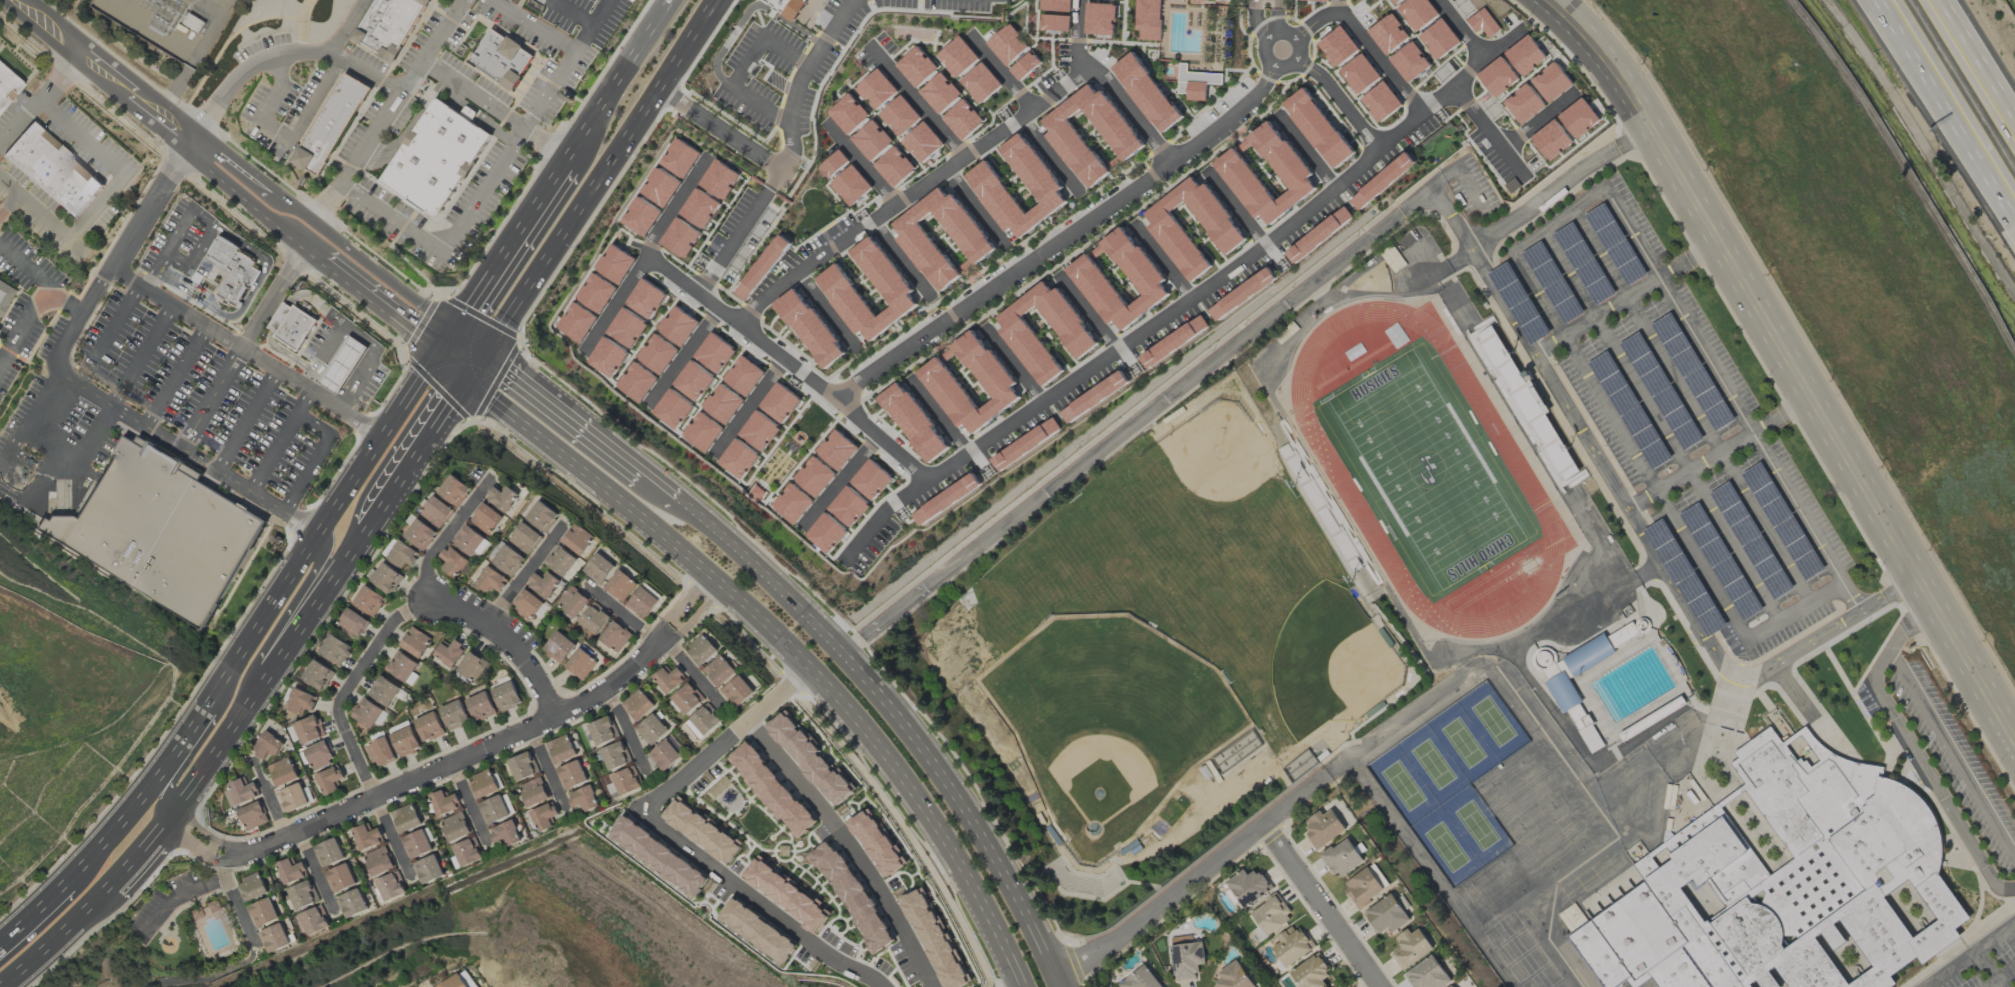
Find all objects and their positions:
building: (1316, 0)
building: (1199, 1)
road: (1255, 4)
road: (1277, 4)
building: (1056, 5)
road: (1337, 5)
building: (788, 7)
building: (1417, 12)
building: (1099, 19)
building: (1148, 19)
road: (583, 20)
road: (1277, 20)
building: (1055, 22)
building: (1483, 23)
power substation: (174, 24)
road: (1256, 24)
road: (531, 25)
building: (389, 26)
road: (352, 27)
road: (1462, 29)
road: (1272, 33)
building: (1389, 34)
road: (581, 38)
road: (1364, 39)
building: (1439, 39)
building: (1007, 44)
building: (1338, 47)
building: (1525, 55)
road: (282, 56)
building: (957, 56)
road: (1487, 56)
building: (501, 58)
road: (1977, 60)
building: (1410, 62)
building: (916, 66)
building: (1025, 66)
road: (744, 67)
road: (1000, 71)
building: (1360, 73)
road: (58, 74)
road: (805, 77)
road: (1100, 78)
road: (617, 79)
building: (1551, 82)
building: (980, 83)
building: (1195, 83)
building: (8, 86)
building: (876, 89)
road: (403, 91)
building: (1146, 92)
road: (278, 93)
building: (940, 93)
road: (915, 100)
road: (1340, 100)
building: (1381, 102)
road: (319, 103)
building: (1525, 103)
road: (1947, 104)
road: (494, 109)
building: (848, 114)
building: (900, 115)
road: (161, 118)
building: (963, 119)
road: (1539, 122)
building: (331, 124)
road: (720, 127)
building: (1318, 128)
building: (1564, 128)
road: (276, 135)
building: (871, 140)
building: (1124, 140)
building: (922, 142)
road: (1305, 149)
road: (507, 151)
road: (1048, 155)
building: (435, 157)
building: (833, 164)
road: (862, 165)
building: (894, 166)
building: (1234, 169)
building: (53, 171)
road: (123, 174)
road: (775, 177)
road: (1443, 177)
building: (1040, 182)
building: (1382, 182)
road: (595, 184)
building: (851, 185)
building: (715, 187)
road: (8, 188)
road: (1472, 188)
road: (1559, 188)
road: (905, 197)
road: (974, 205)
road: (676, 206)
road: (1235, 206)
road: (322, 209)
road: (392, 218)
road: (1449, 220)
road: (1558, 220)
road: (196, 230)
building: (1224, 233)
building: (1319, 234)
road: (1059, 237)
building: (974, 243)
road: (503, 252)
building: (1393, 259)
road: (901, 260)
road: (1161, 260)
building: (763, 266)
road: (23, 268)
building: (234, 270)
road: (1442, 270)
road: (670, 273)
building: (1087, 274)
road: (1745, 280)
building: (891, 285)
road: (371, 291)
building: (1241, 294)
road: (1361, 294)
road: (1539, 294)
building: (4, 295)
road: (64, 300)
road: (1628, 300)
road: (614, 303)
road: (827, 311)
road: (1089, 313)
building: (281, 318)
road: (23, 325)
building: (810, 327)
building: (297, 329)
building: (1397, 333)
road: (108, 334)
road: (361, 335)
building: (1022, 337)
road: (232, 341)
building: (1162, 349)
road: (140, 354)
road: (684, 355)
road: (458, 357)
building: (343, 365)
gas station: (344, 365)
road: (1013, 365)
road: (174, 375)
building: (992, 377)
road: (1070, 380)
road: (75, 384)
road: (312, 392)
road: (211, 397)
parking lot: (159, 399)
road: (1732, 400)
road: (1692, 406)
road: (746, 407)
road: (562, 412)
road: (940, 416)
road: (245, 419)
road: (1137, 419)
building: (914, 421)
road: (1660, 426)
road: (280, 440)
road: (422, 447)
road: (1719, 453)
track: (1337, 475)
road: (19, 478)
road: (838, 482)
road: (1654, 488)
building: (454, 490)
road: (666, 493)
building: (436, 512)
road: (883, 514)
building: (541, 516)
building: (486, 518)
building: (162, 533)
building: (420, 534)
building: (525, 538)
road: (446, 539)
building: (577, 539)
building: (470, 541)
building: (400, 553)
road: (1655, 555)
building: (506, 558)
building: (452, 561)
building: (563, 563)
building: (598, 569)
building: (386, 578)
road: (525, 578)
road: (768, 579)
building: (490, 580)
building: (543, 584)
building: (620, 586)
building: (368, 600)
building: (572, 601)
building: (643, 602)
building: (526, 604)
building: (1626, 611)
road: (1793, 612)
road: (623, 617)
building: (594, 618)
road: (263, 622)
building: (352, 623)
road: (1548, 625)
road: (278, 626)
building: (615, 636)
road: (1898, 639)
building: (415, 642)
road: (508, 643)
road: (783, 645)
building: (559, 647)
building: (335, 649)
building: (701, 650)
building: (449, 652)
road: (1967, 656)
building: (581, 664)
building: (472, 666)
road: (1478, 666)
building: (403, 667)
building: (719, 671)
building: (318, 675)
road: (693, 675)
building: (668, 680)
road: (349, 690)
building: (384, 690)
building: (738, 691)
building: (506, 695)
building: (1565, 696)
building: (686, 699)
building: (301, 701)
building: (638, 705)
building: (481, 706)
building: (368, 714)
building: (454, 715)
building: (703, 721)
park: (1493, 722)
road: (11, 723)
building: (429, 726)
building: (309, 729)
building: (652, 729)
building: (600, 732)
road: (626, 733)
building: (404, 739)
road: (199, 742)
park: (1462, 743)
building: (268, 745)
building: (561, 749)
building: (380, 752)
building: (318, 755)
building: (615, 755)
building: (664, 755)
road: (1952, 755)
building: (809, 756)
road: (455, 765)
park: (1433, 765)
building: (522, 766)
road: (202, 770)
building: (282, 772)
road: (547, 773)
building: (572, 775)
building: (330, 780)
building: (623, 782)
building: (483, 785)
park: (1402, 786)
building: (771, 790)
road: (1936, 791)
building: (240, 792)
building: (533, 792)
building: (293, 797)
building: (583, 799)
road: (268, 801)
building: (444, 803)
road: (470, 809)
building: (494, 809)
road: (969, 809)
building: (252, 815)
building: (543, 816)
building: (406, 818)
park: (1476, 826)
building: (455, 827)
building: (1324, 829)
building: (702, 830)
road: (669, 831)
building: (505, 833)
building: (367, 836)
road: (393, 838)
building: (877, 843)
building: (417, 844)
park: (1446, 847)
road: (848, 849)
building: (329, 852)
building: (467, 852)
building: (658, 856)
building: (1342, 858)
building: (428, 869)
road: (317, 870)
building: (291, 871)
building: (340, 878)
road: (1193, 878)
building: (1786, 885)
building: (390, 886)
building: (252, 887)
building: (1248, 887)
building: (1363, 888)
road: (2008, 890)
building: (786, 893)
building: (851, 894)
building: (302, 895)
road: (173, 896)
building: (351, 903)
road: (1322, 904)
building: (212, 906)
road: (236, 906)
building: (263, 912)
road: (33, 914)
building: (1271, 915)
building: (1387, 915)
building: (313, 921)
building: (756, 931)
building: (274, 938)
building: (935, 939)
building: (1292, 946)
building: (1412, 948)
road: (1971, 955)
building: (1187, 958)
building: (1311, 973)
building: (1428, 974)
building: (1234, 976)
road: (2002, 977)
building: (469, 979)
building: (1141, 979)
building: (455, 982)
building: (1341, 986)
building: (1452, 986)

